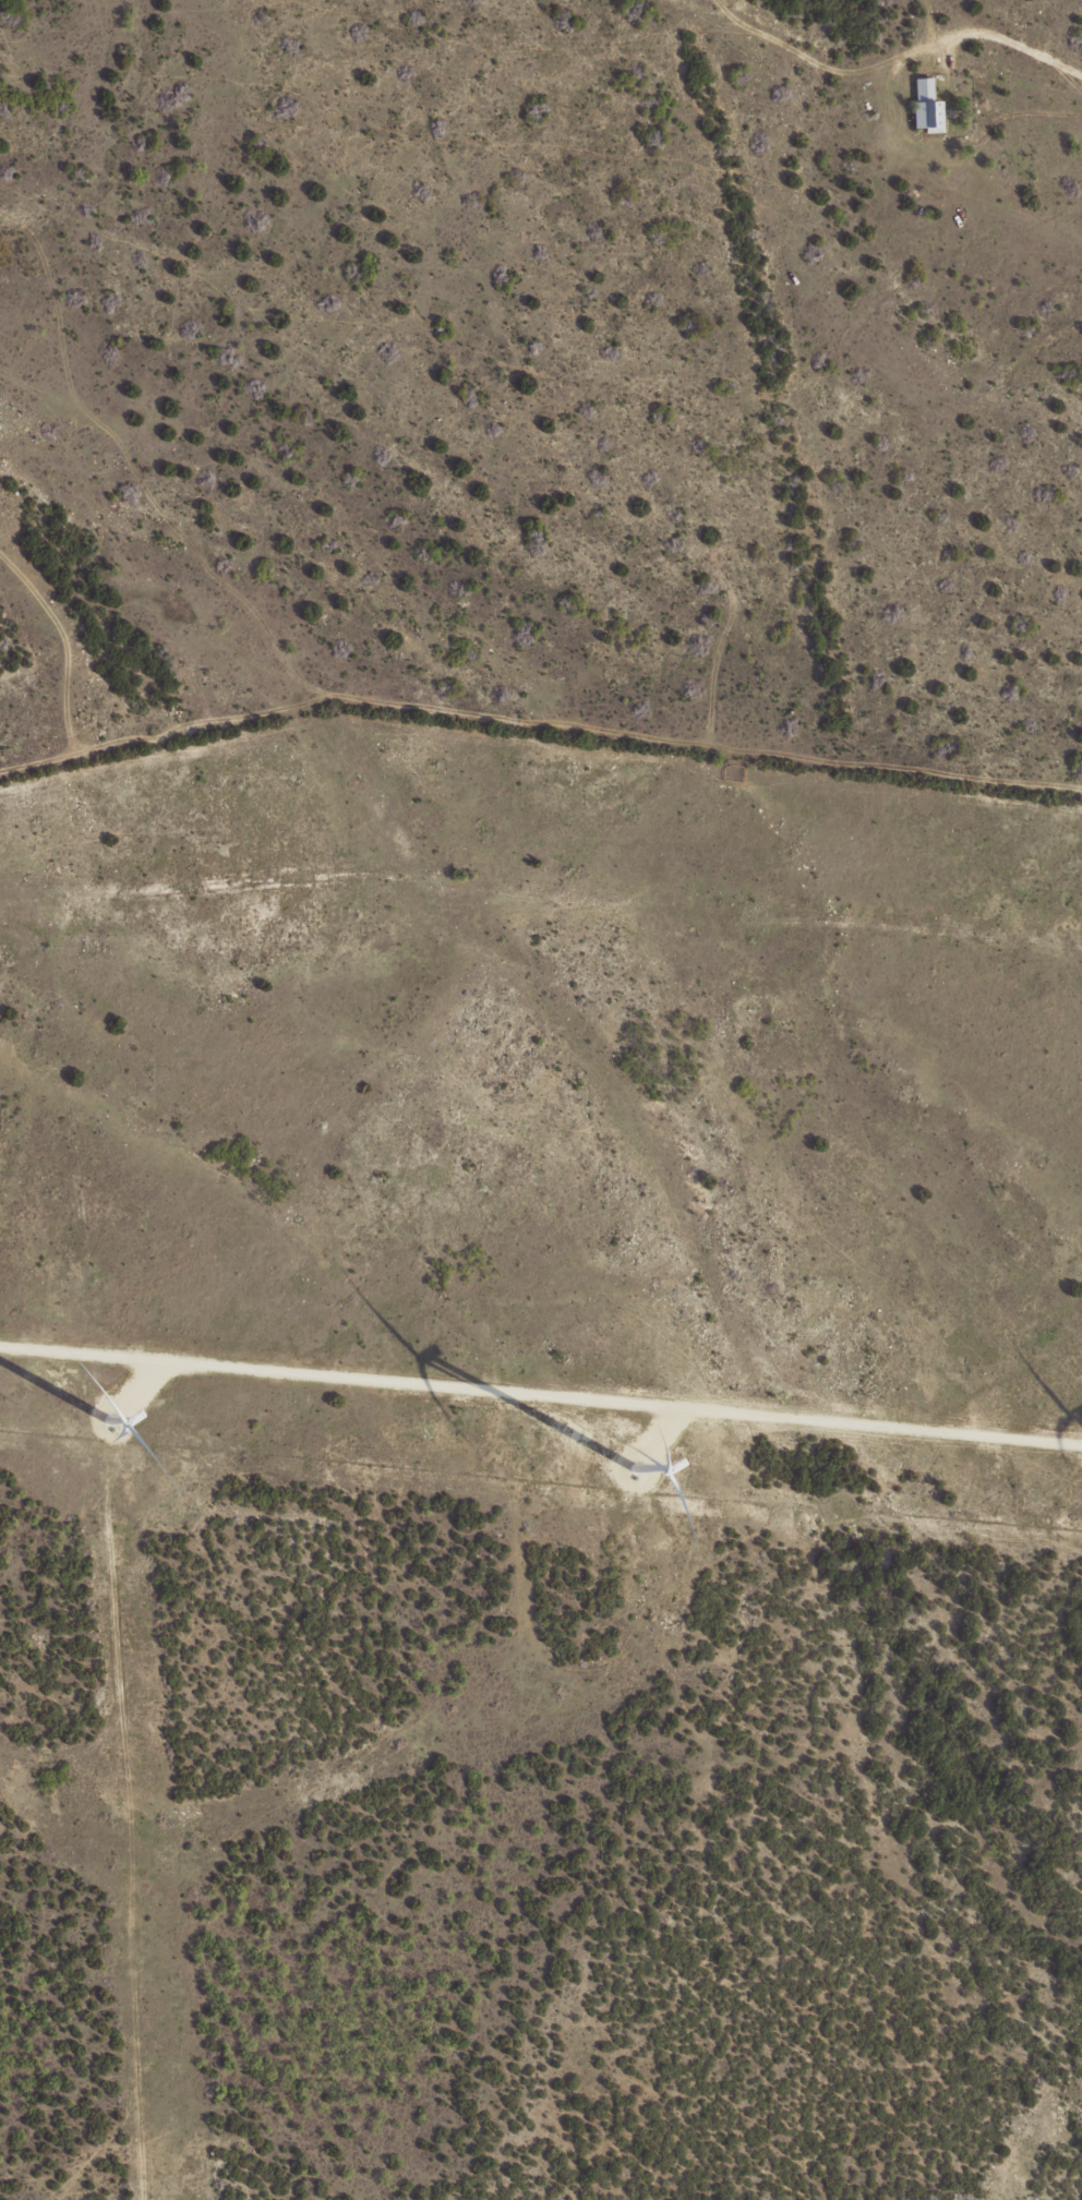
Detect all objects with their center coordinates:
building: (925, 106)
road: (540, 923)
road: (541, 1394)
wind turbine: (113, 1428)
wind turbine: (629, 1470)
road: (86, 2147)

